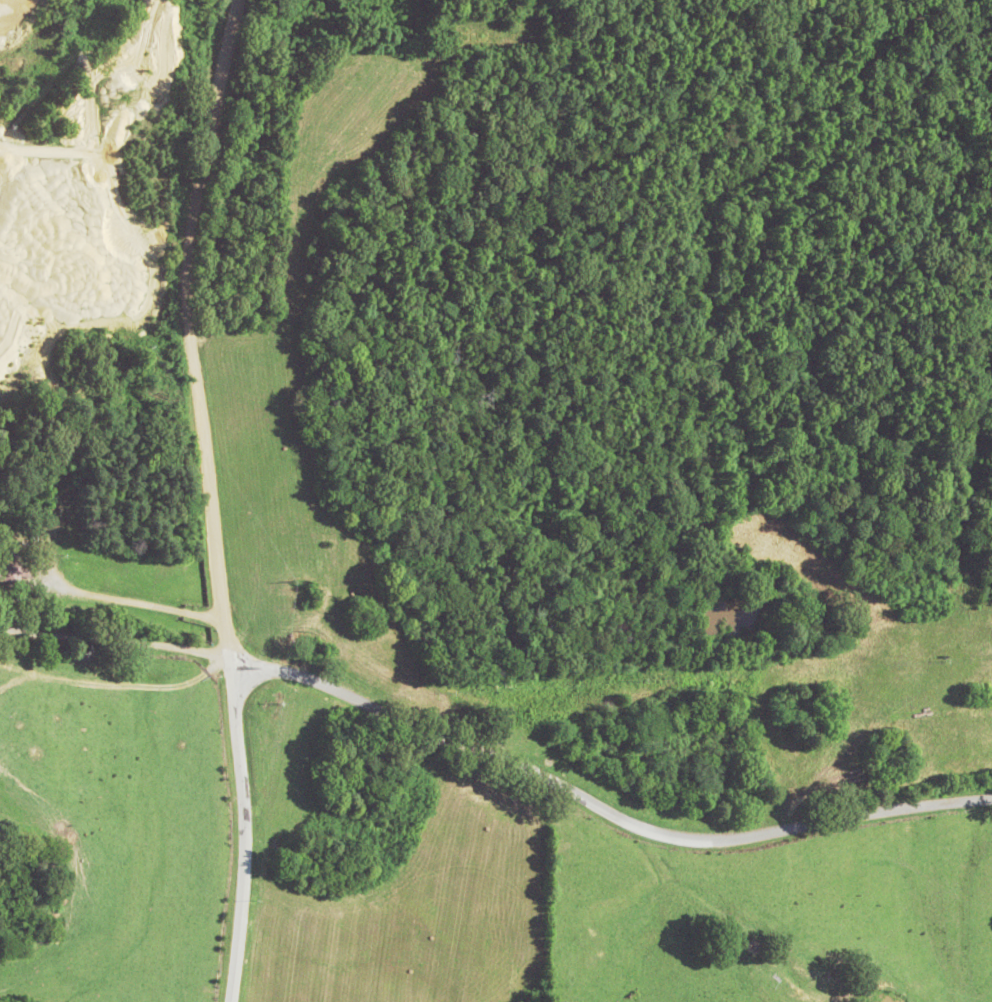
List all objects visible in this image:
road: (70, 357)
road: (165, 498)
road: (152, 626)
building: (11, 725)
road: (489, 748)

